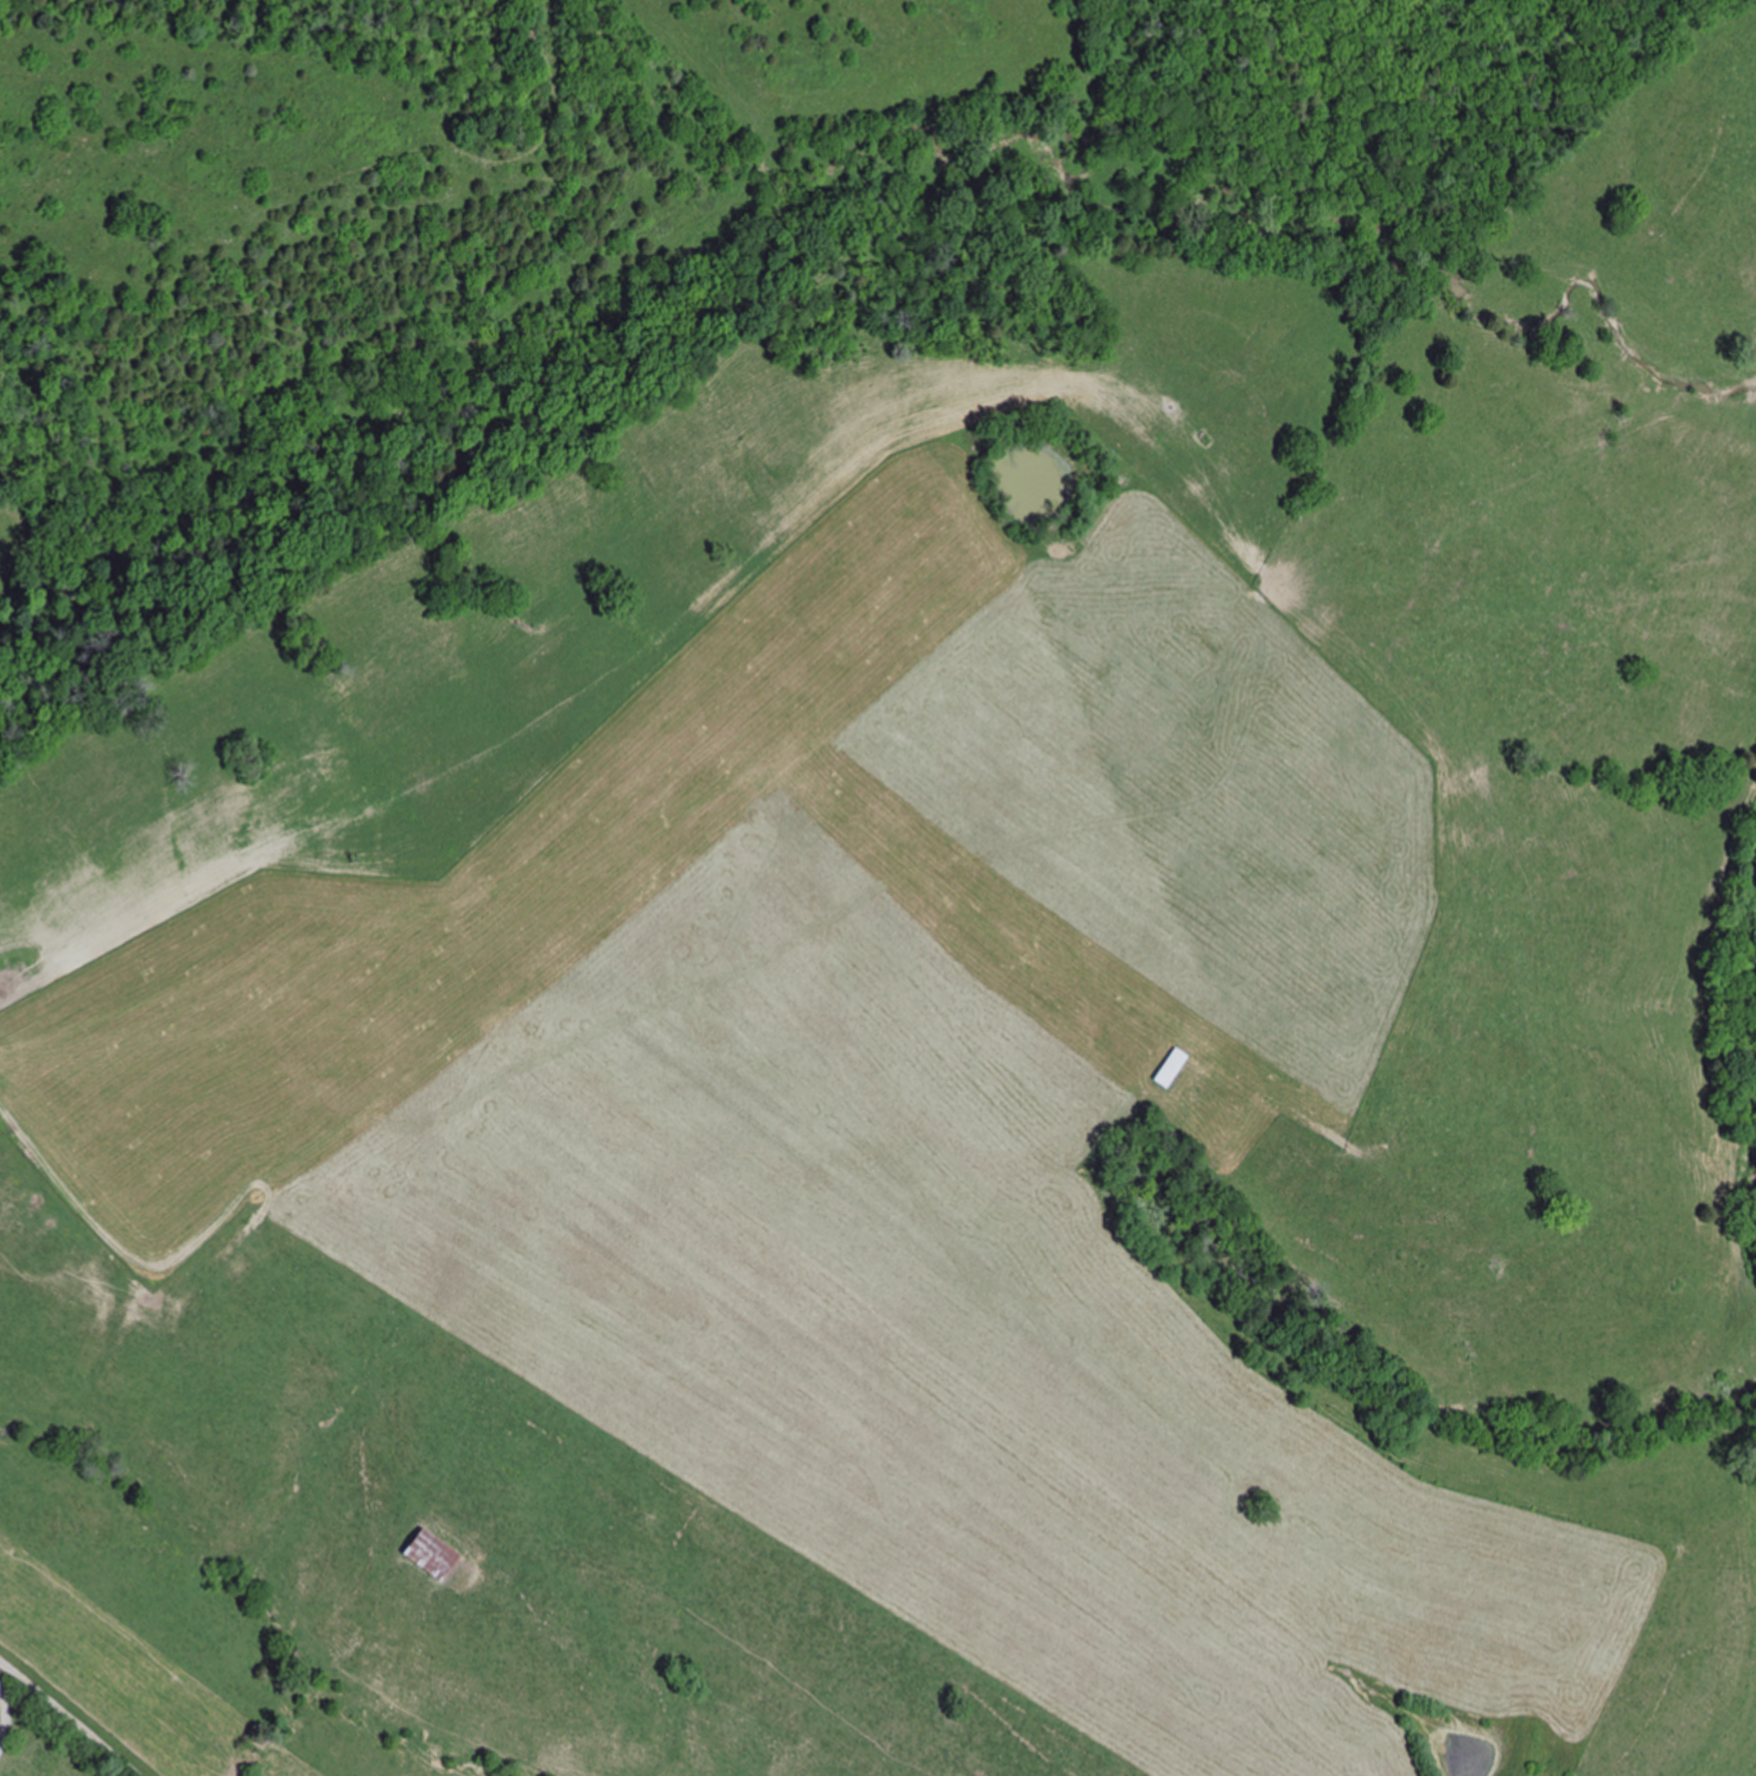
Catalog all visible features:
building: (439, 1557)
road: (66, 1723)

